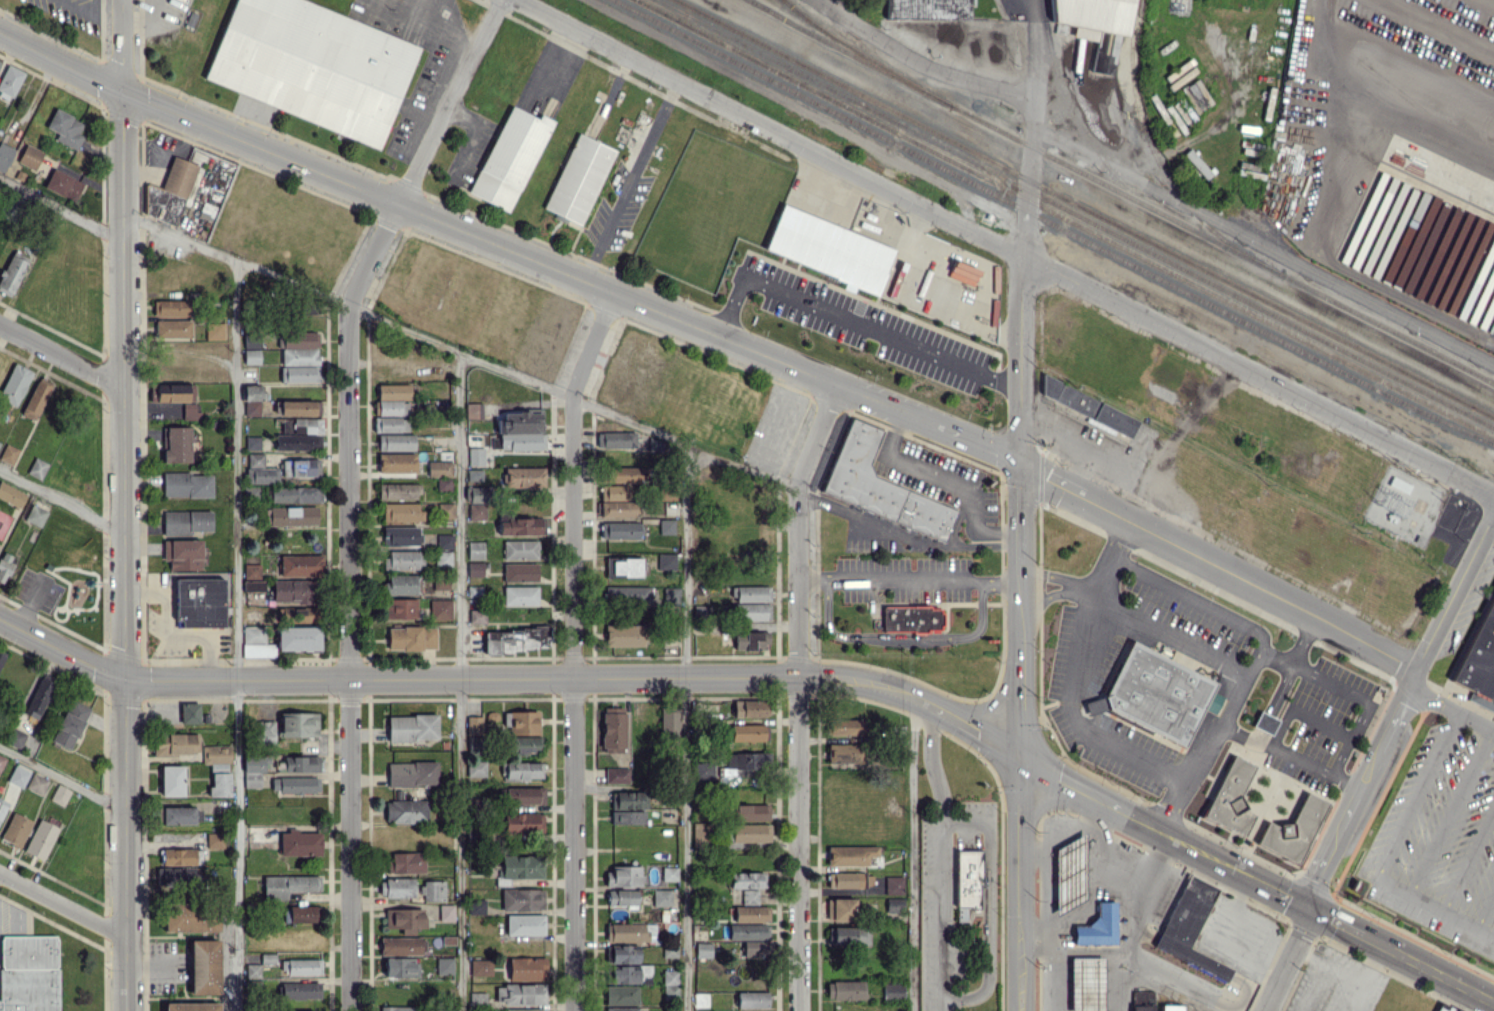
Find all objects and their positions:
building: (926, 9)
road: (91, 11)
road: (414, 13)
building: (1094, 25)
road: (119, 46)
railway: (850, 53)
railway: (865, 57)
road: (1344, 59)
building: (0, 61)
road: (59, 62)
road: (1032, 64)
building: (312, 65)
road: (556, 66)
building: (10, 80)
building: (1195, 95)
road: (447, 101)
road: (1383, 114)
road: (767, 127)
building: (64, 128)
road: (471, 133)
building: (4, 155)
building: (29, 156)
building: (509, 157)
railway: (1157, 163)
building: (1196, 163)
building: (578, 178)
road: (630, 181)
building: (63, 184)
building: (169, 191)
road: (1026, 191)
road: (59, 206)
railway: (1083, 208)
building: (10, 209)
railway: (1074, 214)
railway: (1063, 219)
railway: (1053, 224)
building: (1414, 241)
railway: (1222, 244)
road: (1262, 246)
building: (827, 248)
building: (1436, 252)
road: (371, 254)
building: (962, 272)
building: (11, 274)
road: (570, 275)
building: (1457, 290)
building: (1470, 291)
building: (170, 307)
building: (1486, 311)
road: (852, 322)
parking lot: (858, 324)
building: (173, 328)
building: (214, 330)
road: (591, 343)
building: (251, 351)
building: (299, 356)
road: (60, 357)
road: (1021, 358)
road: (1257, 374)
road: (524, 375)
building: (14, 384)
road: (119, 386)
building: (175, 396)
building: (251, 398)
building: (392, 399)
building: (35, 400)
building: (1086, 405)
building: (299, 407)
building: (473, 410)
building: (390, 424)
building: (520, 430)
building: (299, 434)
road: (816, 438)
building: (616, 439)
building: (395, 441)
road: (1073, 441)
building: (252, 442)
building: (175, 444)
building: (654, 445)
building: (8, 453)
building: (475, 456)
building: (255, 459)
building: (396, 462)
traffic signals: (1021, 463)
building: (36, 467)
building: (300, 467)
building: (439, 468)
building: (474, 474)
building: (622, 474)
building: (261, 475)
building: (524, 476)
building: (878, 480)
building: (443, 483)
road: (949, 483)
building: (187, 484)
building: (396, 491)
building: (613, 492)
building: (295, 494)
building: (11, 495)
road: (60, 497)
building: (476, 502)
building: (616, 508)
building: (445, 510)
building: (401, 512)
building: (34, 515)
building: (290, 515)
building: (186, 521)
building: (518, 526)
building: (666, 526)
building: (619, 529)
building: (399, 535)
building: (444, 541)
road: (974, 543)
building: (474, 549)
building: (520, 549)
building: (182, 553)
building: (403, 559)
building: (444, 559)
building: (665, 561)
building: (4, 565)
building: (300, 565)
building: (622, 567)
road: (1220, 567)
building: (475, 569)
building: (519, 571)
building: (252, 577)
road: (1057, 577)
road: (908, 579)
road: (796, 583)
building: (401, 584)
building: (440, 584)
building: (292, 590)
building: (474, 591)
building: (749, 593)
building: (626, 594)
road: (1451, 594)
building: (519, 595)
building: (671, 595)
road: (1046, 597)
building: (199, 602)
building: (398, 608)
building: (440, 609)
road: (1020, 610)
building: (753, 611)
building: (297, 613)
building: (477, 616)
building: (910, 618)
road: (235, 634)
road: (1170, 634)
building: (624, 635)
building: (411, 637)
building: (297, 638)
building: (516, 639)
road: (901, 639)
building: (750, 640)
building: (256, 642)
road: (60, 649)
road: (1295, 656)
road: (349, 657)
building: (1, 658)
building: (1481, 660)
road: (1079, 676)
road: (518, 679)
road: (459, 680)
building: (1155, 694)
building: (38, 698)
road: (572, 702)
building: (1211, 702)
road: (1272, 704)
building: (748, 708)
road: (1450, 710)
building: (189, 713)
building: (669, 720)
building: (523, 722)
building: (1263, 722)
building: (70, 724)
building: (298, 724)
building: (474, 725)
road: (967, 725)
building: (843, 726)
building: (412, 727)
road: (683, 727)
building: (613, 728)
building: (265, 731)
building: (746, 732)
road: (1213, 733)
building: (16, 738)
building: (175, 743)
building: (474, 744)
building: (523, 744)
building: (844, 752)
building: (216, 753)
road: (1293, 755)
traffic signals: (1020, 758)
building: (1, 761)
building: (299, 763)
building: (742, 763)
building: (478, 768)
building: (253, 770)
building: (521, 770)
building: (704, 771)
road: (61, 773)
building: (412, 773)
building: (616, 775)
building: (17, 776)
building: (171, 780)
building: (36, 783)
building: (219, 784)
building: (295, 784)
road: (1074, 786)
road: (1361, 793)
building: (59, 794)
building: (524, 795)
building: (1229, 799)
building: (628, 800)
building: (2, 805)
building: (405, 811)
building: (750, 812)
road: (1451, 812)
building: (181, 815)
building: (627, 817)
building: (523, 822)
building: (15, 829)
building: (1291, 829)
building: (701, 832)
building: (748, 832)
building: (40, 839)
building: (215, 840)
building: (299, 842)
road: (798, 845)
road: (122, 846)
road: (1193, 848)
road: (912, 854)
road: (1387, 854)
building: (850, 855)
building: (178, 856)
road: (940, 858)
road: (1468, 860)
building: (405, 862)
building: (521, 866)
building: (1069, 872)
building: (669, 873)
building: (623, 875)
building: (178, 876)
building: (746, 879)
building: (844, 879)
building: (965, 880)
building: (893, 884)
road: (1020, 884)
building: (289, 885)
building: (396, 887)
building: (433, 890)
building: (749, 895)
road: (1283, 895)
building: (622, 897)
building: (661, 897)
building: (522, 899)
road: (987, 902)
road: (62, 904)
building: (893, 904)
building: (477, 906)
traffic signals: (1309, 908)
building: (840, 909)
road: (1485, 911)
building: (446, 912)
building: (301, 913)
building: (751, 913)
building: (191, 918)
building: (405, 919)
road: (1334, 921)
building: (524, 924)
building: (1097, 926)
building: (1189, 927)
building: (630, 931)
building: (748, 931)
building: (848, 936)
building: (402, 945)
building: (755, 948)
road: (1074, 949)
building: (703, 950)
building: (669, 951)
building: (623, 953)
building: (267, 958)
road: (1285, 959)
building: (203, 966)
building: (300, 966)
building: (401, 966)
building: (444, 966)
building: (480, 966)
building: (527, 967)
road: (1427, 969)
building: (252, 970)
building: (29, 973)
building: (630, 974)
road: (1056, 980)
road: (1113, 980)
building: (670, 985)
building: (844, 989)
building: (300, 990)
building: (892, 990)
road: (1129, 991)
road: (1170, 991)
building: (520, 993)
building: (621, 994)
building: (751, 999)
building: (1142, 1000)
building: (479, 1001)
building: (191, 1006)
road: (1189, 1006)
building: (1170, 1007)
building: (400, 1008)
building: (1442, 1008)
building: (524, 1009)
building: (622, 1009)
building: (443, 1010)

